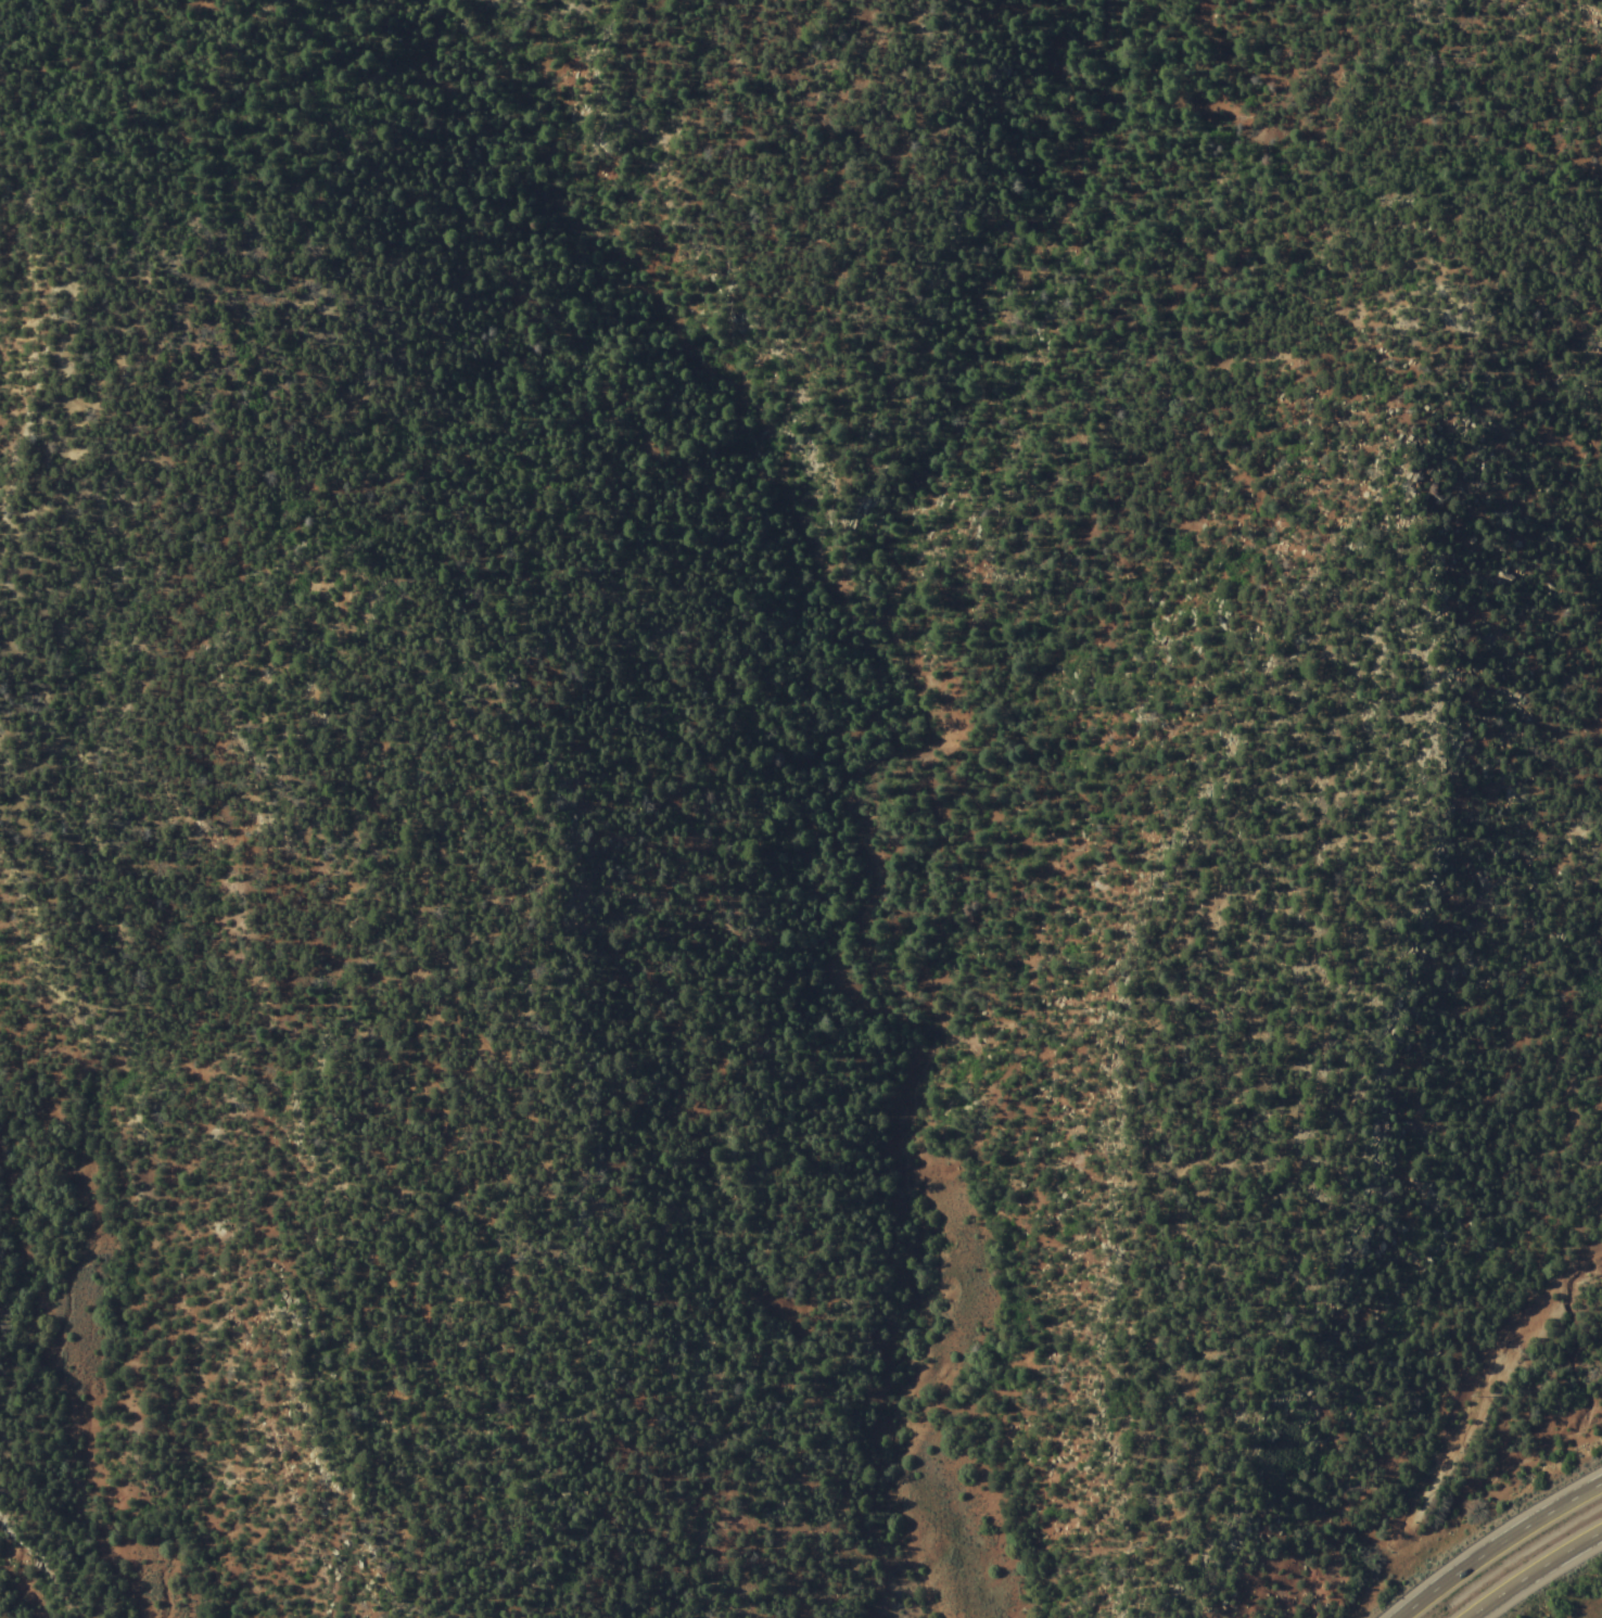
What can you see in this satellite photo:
road: (1484, 1388)
road: (1501, 1546)
road: (1533, 1570)

